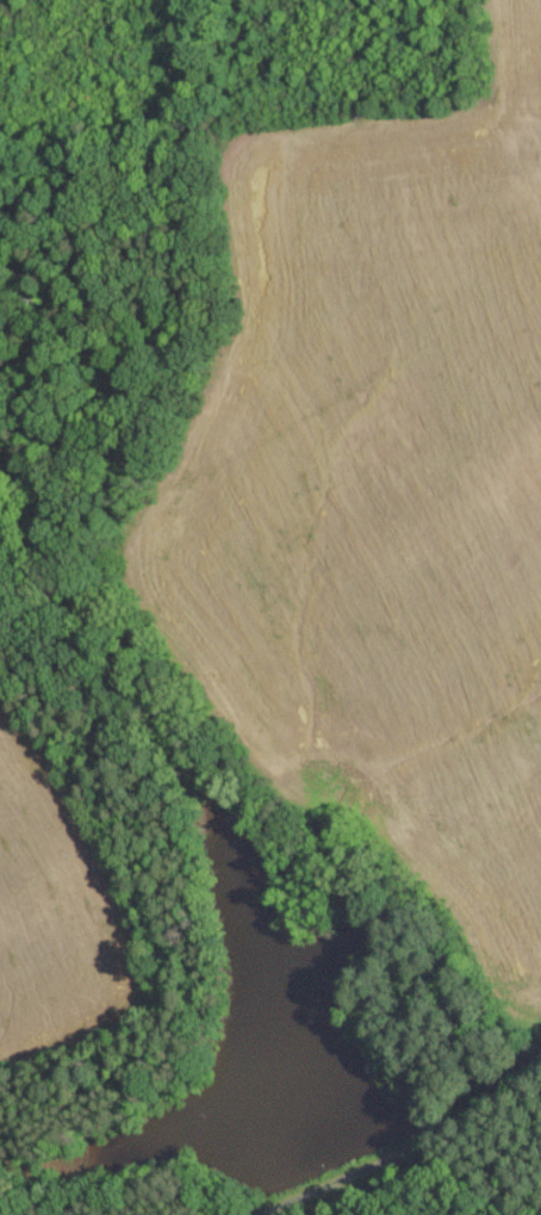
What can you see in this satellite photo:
road: (399, 1151)

